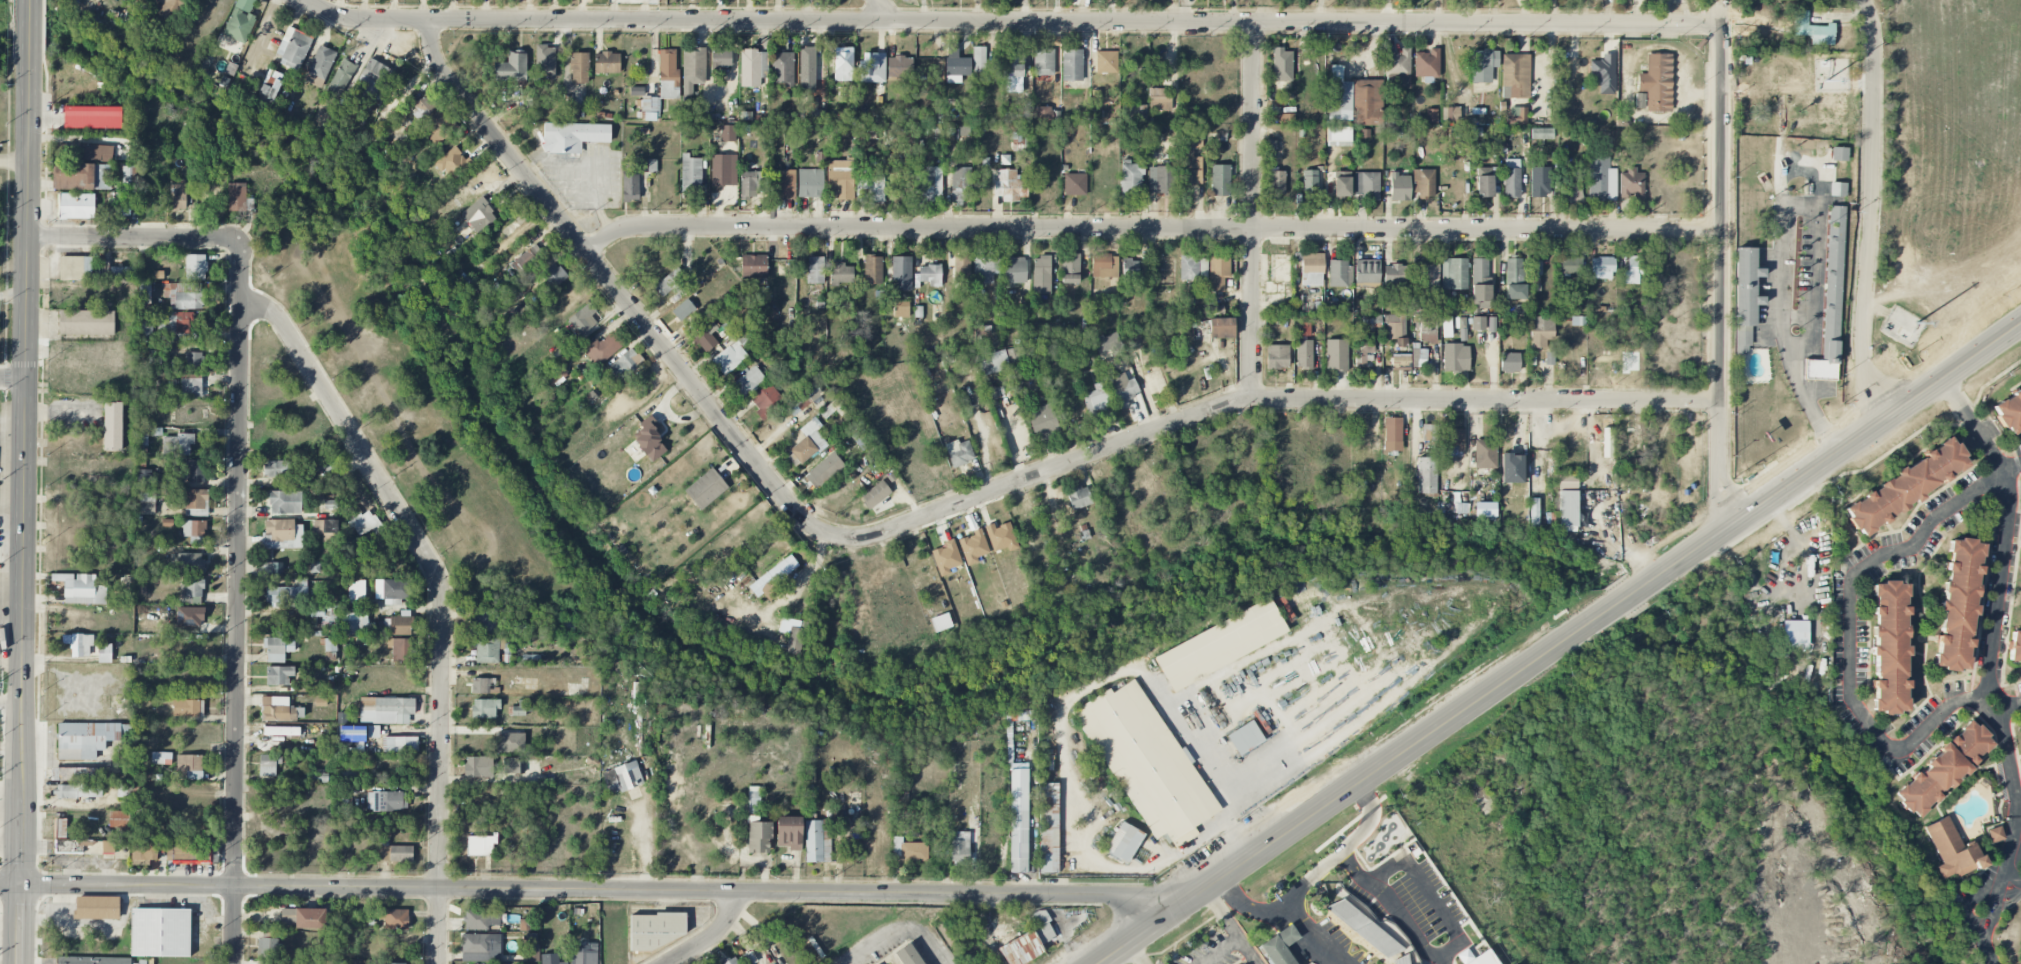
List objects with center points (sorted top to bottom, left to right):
building: (901, 0)
building: (170, 9)
road: (884, 9)
road: (1009, 20)
building: (240, 21)
building: (1813, 29)
building: (293, 48)
building: (721, 58)
building: (979, 59)
building: (545, 61)
building: (1043, 62)
building: (1106, 62)
building: (1397, 62)
building: (606, 63)
building: (807, 63)
building: (1427, 63)
building: (843, 64)
building: (956, 64)
building: (1013, 65)
building: (1072, 65)
building: (1282, 65)
building: (1483, 65)
building: (319, 66)
building: (899, 66)
building: (579, 67)
building: (872, 67)
building: (782, 68)
building: (511, 69)
building: (692, 69)
building: (750, 69)
building: (1604, 73)
building: (668, 74)
building: (1515, 75)
building: (340, 78)
building: (374, 78)
building: (1043, 79)
building: (1402, 82)
building: (1657, 82)
building: (637, 91)
building: (1159, 100)
building: (1355, 101)
building: (1640, 101)
building: (424, 107)
building: (650, 108)
building: (572, 112)
building: (1137, 113)
building: (1450, 113)
building: (1043, 115)
building: (1431, 116)
building: (1516, 116)
building: (92, 117)
building: (1286, 118)
building: (438, 127)
building: (728, 133)
building: (1542, 133)
building: (572, 136)
building: (1338, 136)
building: (1270, 146)
building: (1839, 154)
building: (820, 157)
building: (1005, 159)
road: (15, 161)
building: (1193, 162)
building: (86, 170)
building: (723, 170)
building: (691, 173)
building: (636, 178)
building: (841, 178)
building: (1512, 178)
building: (1161, 179)
building: (1130, 180)
building: (1221, 180)
building: (1309, 180)
building: (1601, 180)
building: (1487, 181)
building: (811, 182)
building: (1277, 182)
building: (1539, 182)
building: (1423, 183)
building: (752, 184)
building: (783, 184)
building: (961, 184)
building: (1074, 184)
building: (1631, 184)
building: (931, 185)
building: (1010, 185)
building: (1341, 185)
building: (1367, 185)
building: (870, 187)
building: (1399, 187)
building: (1838, 189)
building: (1574, 190)
building: (177, 195)
building: (207, 195)
building: (236, 197)
building: (118, 204)
building: (76, 206)
road: (1252, 211)
road: (1872, 211)
building: (478, 215)
road: (1149, 227)
road: (135, 236)
building: (527, 258)
road: (1720, 265)
building: (754, 266)
building: (1104, 266)
building: (1536, 266)
building: (1569, 266)
building: (195, 267)
building: (786, 267)
building: (75, 268)
building: (961, 268)
building: (986, 268)
building: (1070, 268)
building: (1193, 268)
building: (1310, 268)
building: (1602, 268)
building: (873, 269)
building: (1633, 269)
building: (115, 270)
building: (815, 270)
building: (1014, 270)
building: (1134, 270)
building: (1367, 271)
building: (842, 273)
building: (901, 273)
building: (1218, 273)
building: (1340, 273)
building: (1454, 273)
building: (553, 274)
building: (930, 274)
building: (1041, 275)
building: (1396, 275)
building: (1429, 276)
building: (1514, 278)
building: (670, 283)
building: (1481, 284)
building: (144, 294)
building: (183, 295)
building: (1745, 297)
building: (1831, 301)
building: (901, 309)
building: (1218, 309)
building: (683, 310)
building: (1520, 310)
building: (515, 313)
building: (584, 319)
building: (86, 322)
building: (176, 323)
building: (1478, 323)
building: (1446, 326)
building: (1221, 327)
building: (1305, 329)
building: (1396, 329)
building: (148, 330)
building: (1463, 330)
building: (982, 331)
building: (1427, 332)
building: (1541, 332)
road: (1782, 336)
building: (706, 338)
building: (1132, 338)
building: (1101, 344)
building: (605, 347)
building: (1364, 348)
building: (734, 350)
building: (1304, 354)
building: (1336, 355)
building: (1277, 356)
building: (1419, 357)
building: (1456, 357)
building: (1549, 358)
building: (193, 360)
building: (997, 360)
building: (1401, 362)
building: (1510, 362)
building: (625, 364)
building: (556, 376)
road: (11, 379)
building: (748, 381)
building: (191, 386)
building: (1123, 389)
building: (803, 399)
building: (1098, 399)
building: (766, 400)
building: (831, 409)
building: (2008, 409)
building: (1042, 420)
road: (1974, 425)
building: (112, 426)
building: (152, 431)
building: (1429, 432)
building: (1392, 434)
building: (1626, 438)
building: (1456, 439)
building: (859, 440)
road: (23, 442)
building: (650, 442)
building: (178, 444)
building: (806, 444)
building: (959, 452)
building: (1485, 453)
building: (324, 464)
building: (276, 468)
building: (1511, 468)
building: (824, 469)
building: (196, 471)
building: (1426, 475)
building: (145, 476)
building: (1567, 480)
building: (1905, 485)
building: (706, 488)
building: (876, 494)
building: (1079, 497)
building: (196, 502)
building: (285, 502)
building: (147, 503)
road: (950, 507)
building: (1460, 508)
building: (1567, 508)
road: (11, 510)
building: (1533, 512)
building: (365, 523)
building: (326, 529)
building: (194, 531)
building: (281, 534)
building: (1001, 537)
building: (973, 547)
building: (946, 557)
building: (2020, 557)
building: (190, 563)
building: (270, 568)
building: (773, 579)
road: (11, 582)
road: (1998, 588)
building: (81, 589)
building: (392, 589)
building: (191, 590)
building: (356, 591)
building: (287, 595)
road: (441, 596)
road: (237, 603)
building: (1958, 604)
building: (322, 612)
road: (1596, 617)
building: (485, 622)
building: (941, 622)
building: (355, 623)
building: (558, 624)
building: (1796, 639)
building: (796, 640)
building: (78, 644)
building: (330, 644)
building: (1221, 644)
building: (1889, 646)
building: (2015, 647)
building: (278, 648)
building: (400, 650)
building: (487, 650)
building: (104, 653)
building: (279, 675)
building: (484, 685)
road: (1997, 699)
building: (114, 702)
building: (188, 708)
building: (485, 708)
building: (277, 709)
building: (386, 710)
road: (2011, 715)
road: (1877, 729)
building: (281, 731)
building: (373, 731)
building: (351, 733)
building: (1245, 737)
building: (85, 739)
building: (511, 742)
building: (399, 744)
building: (161, 758)
building: (1147, 762)
building: (268, 764)
building: (478, 766)
building: (513, 766)
road: (1216, 766)
building: (189, 767)
building: (1944, 767)
building: (75, 773)
building: (624, 776)
building: (318, 777)
building: (78, 790)
building: (387, 801)
road: (10, 815)
building: (119, 820)
building: (1018, 820)
building: (61, 827)
building: (1049, 828)
building: (789, 832)
building: (1996, 833)
road: (1033, 836)
building: (817, 840)
building: (1124, 842)
building: (480, 844)
road: (644, 845)
road: (1346, 845)
building: (85, 847)
building: (960, 848)
building: (1952, 849)
building: (187, 851)
building: (909, 851)
building: (143, 852)
building: (395, 853)
road: (10, 884)
road: (1426, 890)
road: (597, 891)
road: (1989, 891)
road: (1971, 898)
road: (1290, 902)
building: (97, 907)
road: (1394, 908)
building: (1068, 914)
building: (304, 917)
building: (395, 918)
building: (481, 919)
road: (20, 924)
road: (1231, 925)
building: (1042, 926)
building: (657, 929)
road: (897, 930)
building: (1368, 931)
building: (160, 932)
road: (712, 936)
road: (1132, 936)
building: (949, 939)
road: (1989, 945)
building: (1280, 946)
building: (268, 947)
building: (480, 947)
building: (1021, 949)
road: (1219, 950)
road: (1136, 952)
building: (532, 953)
building: (585, 953)
building: (908, 955)
building: (1475, 958)
building: (92, 960)
building: (732, 961)
building: (972, 961)
building: (555, 963)

